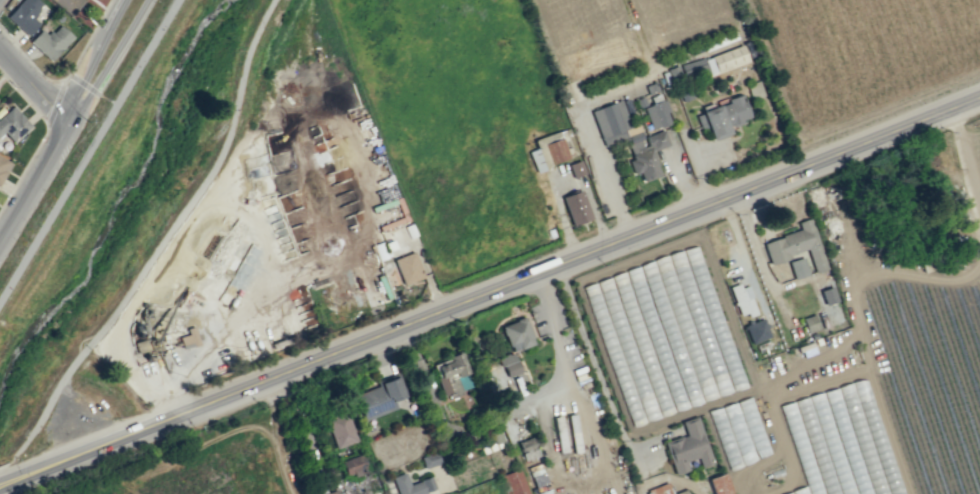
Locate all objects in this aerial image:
building: (25, 15)
crop: (627, 32)
road: (89, 36)
building: (719, 40)
building: (51, 41)
crop: (867, 56)
road: (90, 60)
building: (726, 60)
road: (108, 62)
road: (30, 63)
building: (687, 69)
road: (82, 83)
road: (31, 90)
road: (55, 101)
building: (657, 114)
building: (722, 117)
building: (12, 123)
road: (43, 136)
building: (629, 138)
road: (88, 148)
building: (554, 150)
park: (108, 159)
building: (3, 167)
building: (576, 168)
road: (604, 174)
road: (33, 181)
building: (576, 207)
building: (796, 245)
crop: (626, 261)
building: (798, 267)
building: (407, 268)
road: (490, 293)
building: (827, 295)
building: (743, 300)
building: (809, 323)
road: (869, 329)
building: (756, 330)
building: (517, 334)
building: (189, 338)
building: (512, 368)
building: (452, 375)
road: (573, 385)
building: (379, 397)
crop: (446, 426)
building: (337, 429)
building: (559, 433)
building: (688, 446)
building: (528, 448)
building: (429, 460)
building: (351, 465)
road: (3, 466)
building: (513, 482)
building: (719, 484)
building: (412, 485)
building: (663, 490)
building: (331, 492)

